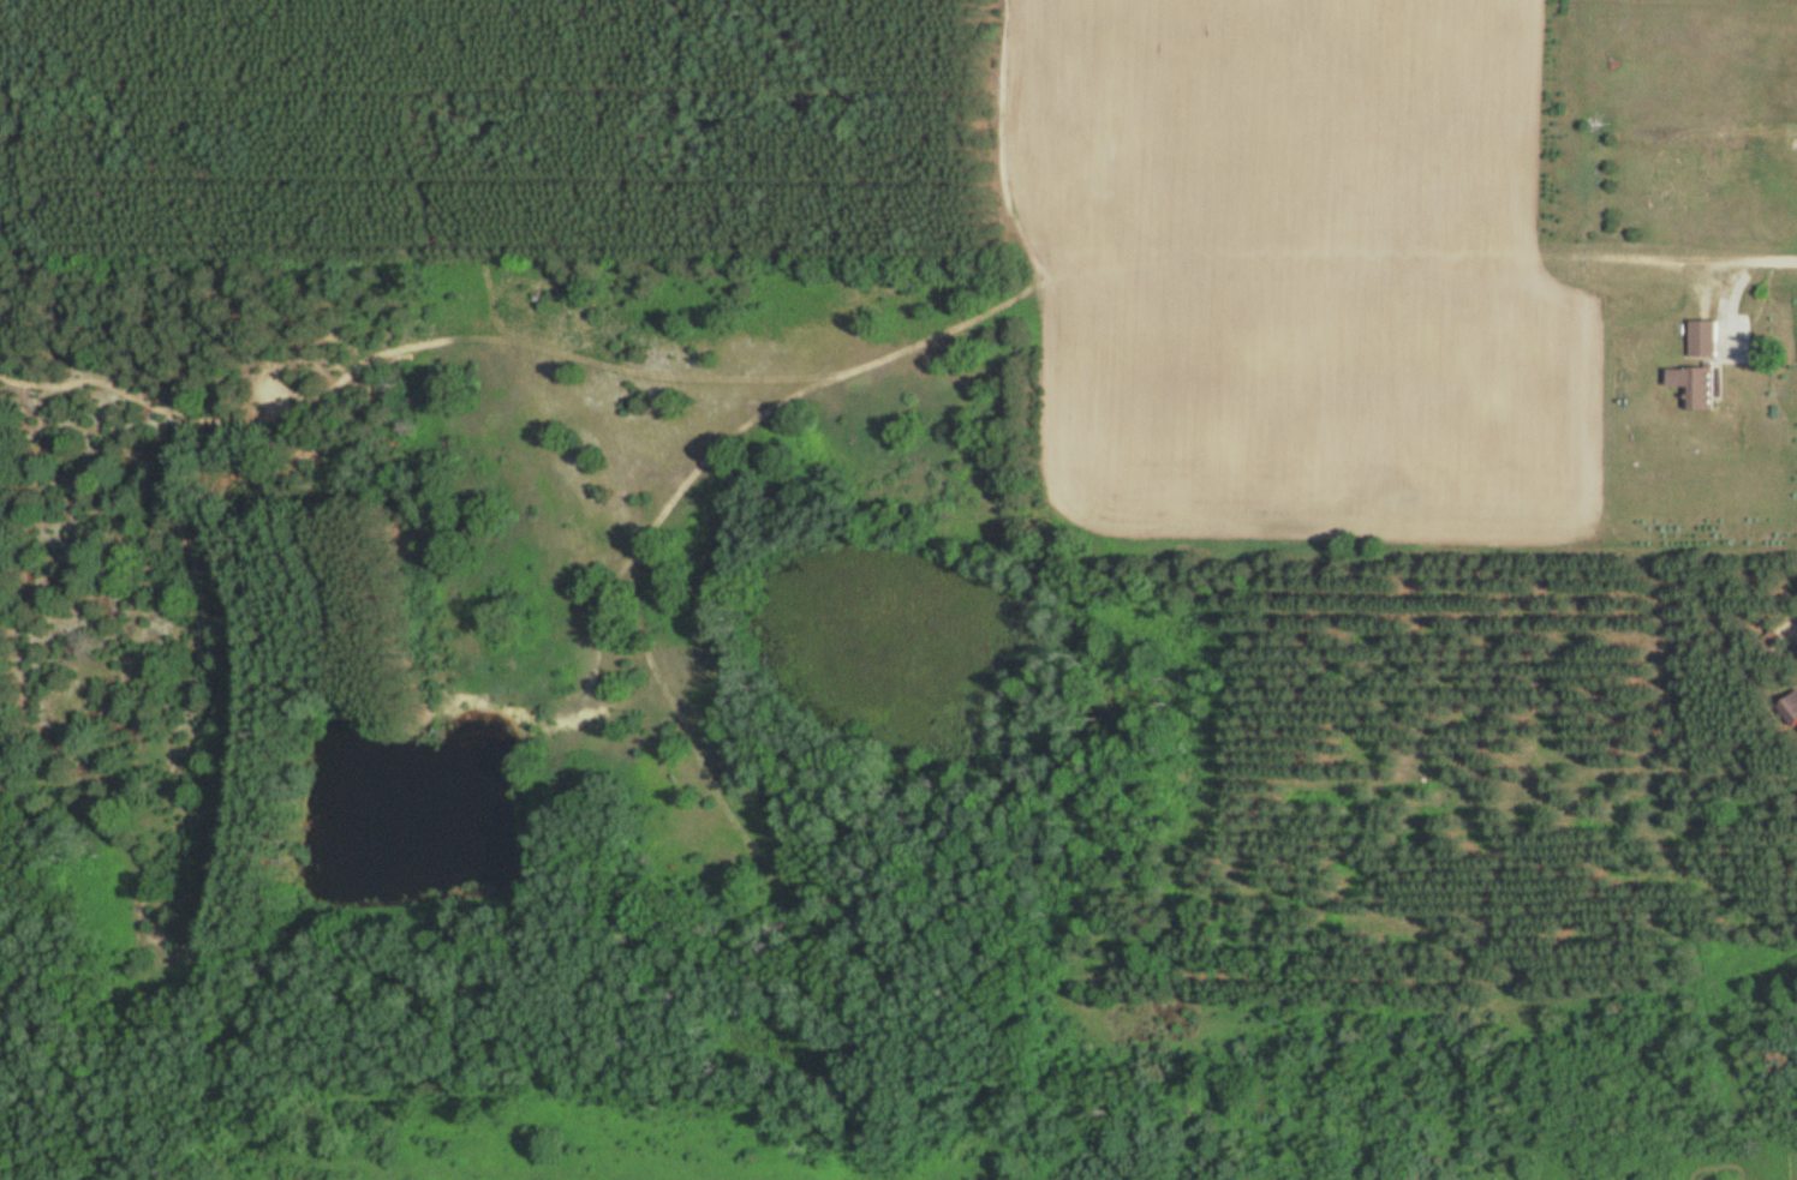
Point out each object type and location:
building: (1707, 337)
building: (1696, 387)
road: (1584, 451)
building: (1791, 711)

